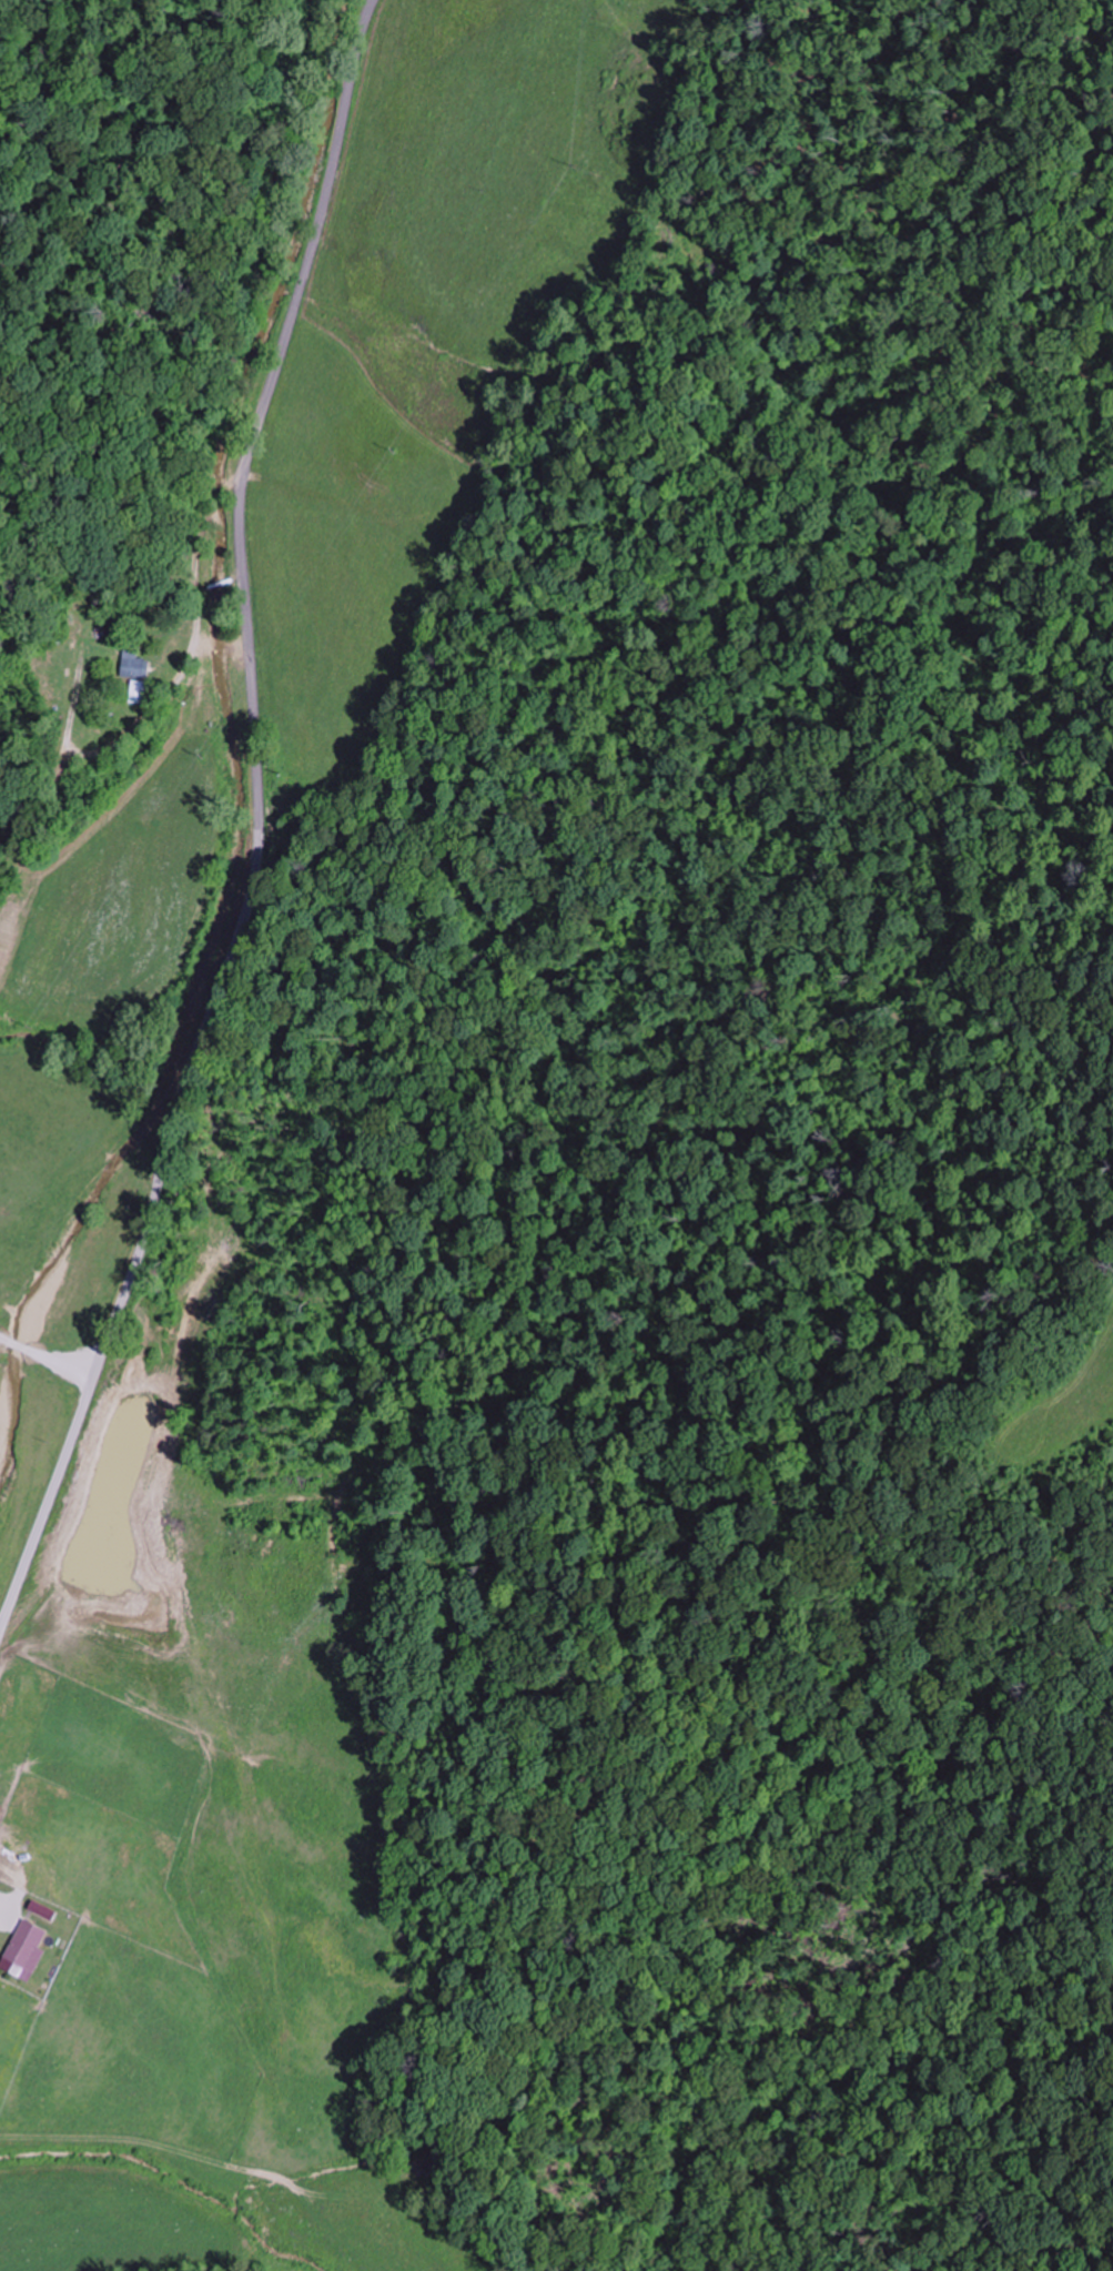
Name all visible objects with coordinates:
building: (133, 665)
road: (259, 824)

